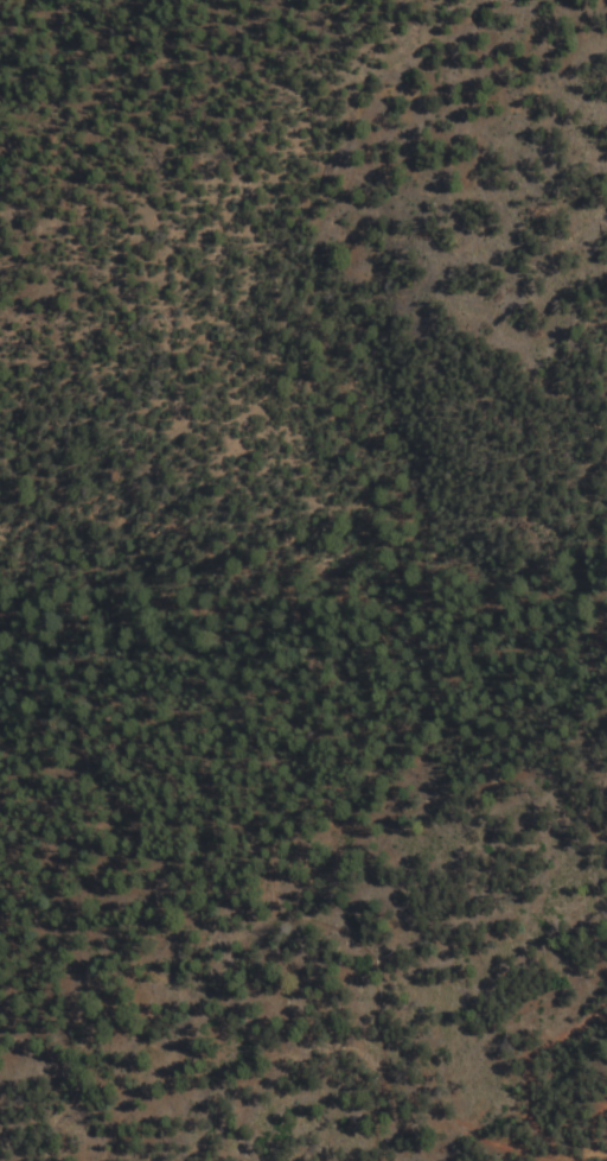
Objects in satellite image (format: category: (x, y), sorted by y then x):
road: (306, 617)
road: (122, 805)
road: (258, 819)

